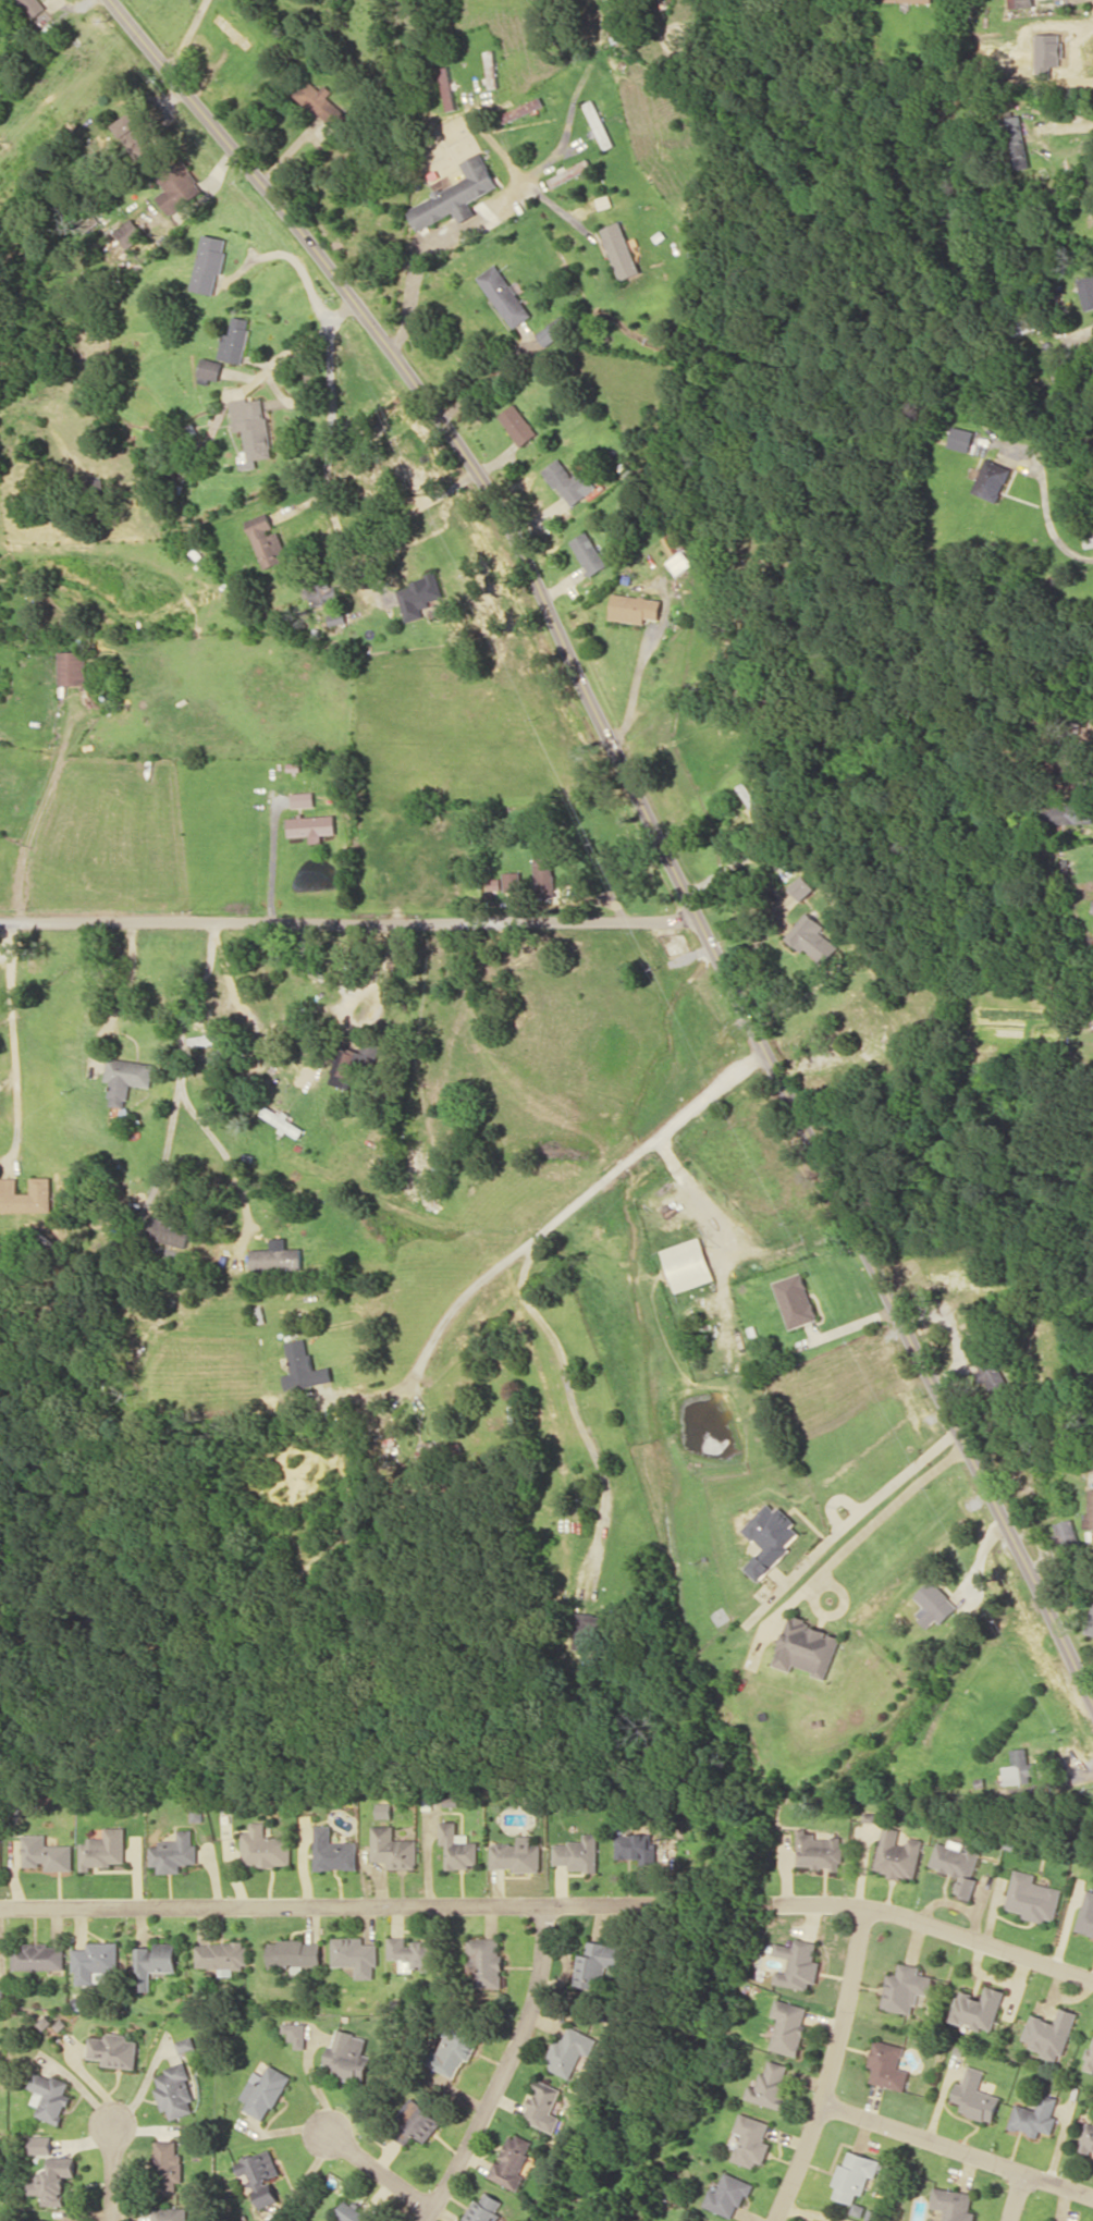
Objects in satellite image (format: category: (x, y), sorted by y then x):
building: (910, 0)
building: (1019, 2)
building: (34, 5)
building: (233, 30)
building: (490, 68)
building: (446, 87)
building: (320, 101)
building: (521, 109)
building: (599, 124)
building: (134, 135)
building: (1017, 142)
building: (569, 171)
building: (179, 186)
building: (455, 194)
building: (131, 233)
building: (621, 249)
building: (208, 263)
building: (1085, 290)
building: (503, 295)
building: (549, 332)
building: (234, 340)
building: (210, 368)
building: (517, 424)
building: (251, 427)
building: (960, 438)
building: (991, 479)
building: (568, 480)
building: (268, 542)
building: (589, 552)
building: (676, 553)
building: (320, 592)
building: (420, 594)
building: (635, 608)
building: (72, 666)
building: (303, 798)
building: (1067, 812)
road: (650, 819)
building: (312, 825)
building: (544, 875)
building: (513, 880)
building: (801, 887)
road: (349, 922)
building: (811, 937)
building: (349, 1064)
building: (125, 1078)
building: (283, 1120)
building: (25, 1194)
road: (572, 1205)
building: (171, 1230)
building: (277, 1257)
building: (687, 1263)
building: (795, 1299)
building: (305, 1366)
building: (998, 1383)
building: (441, 1451)
building: (1089, 1508)
building: (1065, 1532)
building: (770, 1537)
building: (934, 1603)
building: (1090, 1622)
building: (588, 1631)
building: (807, 1647)
building: (1019, 1767)
building: (265, 1846)
building: (459, 1846)
building: (636, 1846)
building: (394, 1848)
building: (105, 1849)
building: (333, 1851)
building: (819, 1851)
building: (0, 1852)
building: (175, 1852)
building: (578, 1852)
building: (47, 1853)
building: (517, 1854)
building: (898, 1854)
building: (957, 1865)
building: (1032, 1897)
road: (330, 1906)
building: (1085, 1915)
road: (938, 1930)
building: (414, 1952)
building: (295, 1953)
building: (222, 1954)
building: (39, 1955)
building: (355, 1955)
building: (487, 1960)
building: (95, 1961)
building: (153, 1962)
building: (598, 1963)
building: (799, 1963)
building: (906, 1987)
building: (978, 2007)
river: (690, 2013)
building: (789, 2026)
building: (1048, 2032)
building: (295, 2033)
building: (186, 2044)
building: (114, 2049)
building: (454, 2050)
building: (570, 2050)
building: (348, 2056)
building: (1090, 2058)
building: (887, 2064)
road: (834, 2069)
road: (504, 2070)
building: (771, 2085)
building: (175, 2090)
building: (265, 2090)
building: (50, 2096)
building: (975, 2096)
building: (543, 2106)
building: (1034, 2116)
building: (416, 2121)
building: (1086, 2137)
building: (752, 2139)
building: (41, 2144)
road: (959, 2148)
building: (512, 2161)
building: (168, 2164)
road: (382, 2167)
road: (118, 2170)
building: (260, 2175)
building: (853, 2175)
building: (56, 2180)
building: (728, 2195)
road: (1017, 2196)
building: (953, 2204)
building: (484, 2209)
building: (171, 2213)
building: (351, 2213)
building: (705, 2220)

